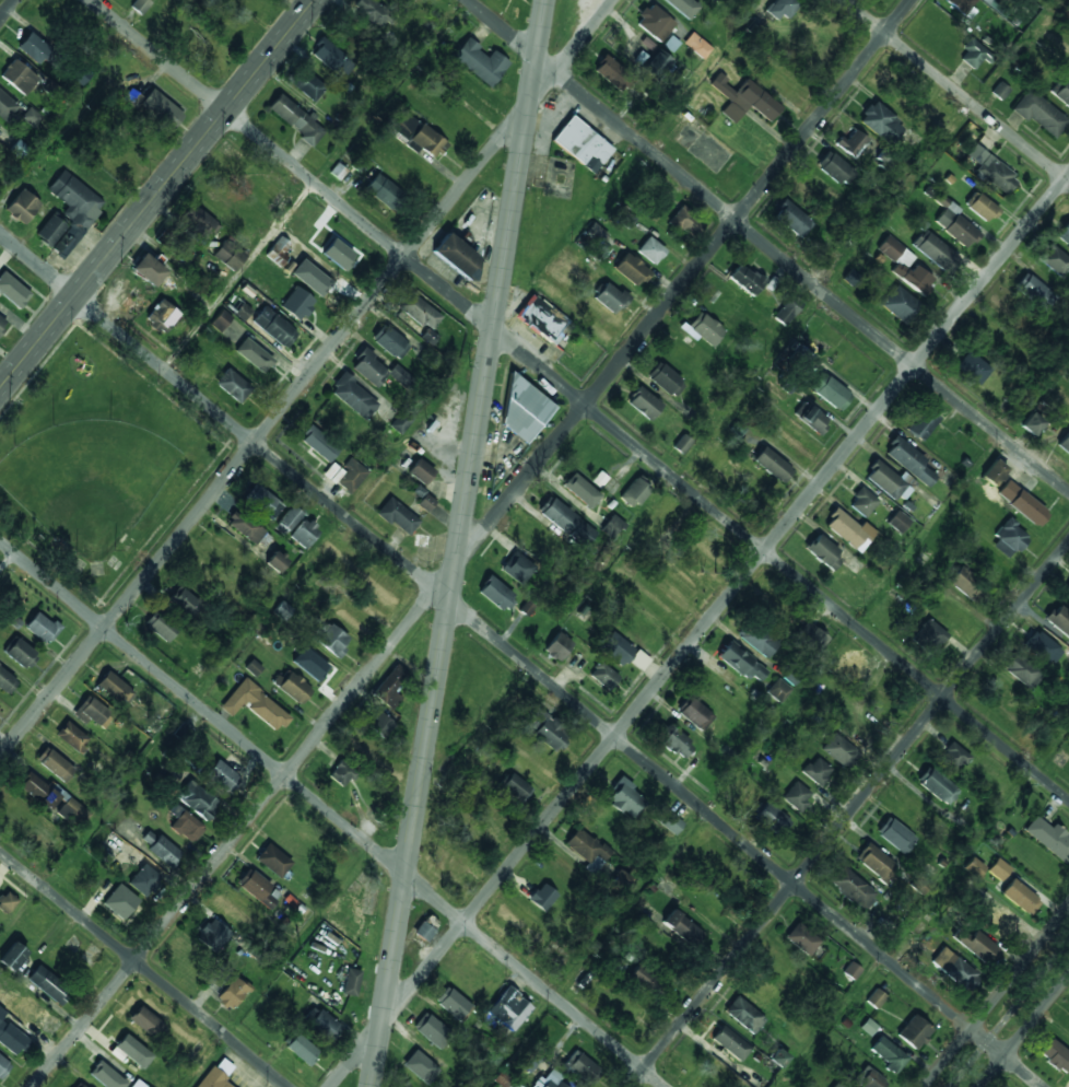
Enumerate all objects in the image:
building: (985, 1)
building: (679, 4)
building: (961, 4)
building: (140, 5)
building: (782, 8)
road: (8, 9)
building: (373, 11)
building: (654, 23)
building: (1068, 26)
building: (696, 46)
building: (33, 48)
building: (974, 56)
building: (332, 58)
building: (479, 62)
building: (656, 65)
building: (610, 73)
building: (17, 77)
building: (780, 82)
building: (306, 84)
road: (956, 91)
building: (1061, 91)
building: (999, 92)
building: (743, 100)
building: (162, 108)
building: (8, 109)
building: (1039, 115)
building: (31, 117)
building: (295, 118)
building: (402, 124)
building: (881, 124)
building: (427, 141)
building: (582, 145)
building: (854, 145)
building: (835, 170)
building: (338, 171)
building: (997, 177)
building: (384, 192)
road: (157, 195)
building: (22, 207)
building: (73, 208)
building: (983, 209)
building: (791, 219)
building: (201, 222)
building: (685, 223)
building: (956, 229)
building: (49, 231)
building: (1064, 234)
building: (592, 237)
building: (169, 241)
road: (767, 246)
building: (277, 250)
building: (650, 250)
building: (936, 252)
building: (337, 254)
building: (228, 255)
building: (456, 255)
building: (1055, 260)
building: (905, 267)
building: (148, 270)
building: (631, 270)
road: (242, 276)
building: (850, 277)
building: (745, 279)
building: (320, 281)
building: (12, 290)
building: (1035, 293)
building: (610, 299)
building: (296, 303)
building: (900, 305)
building: (242, 311)
building: (418, 311)
building: (787, 311)
building: (162, 317)
building: (591, 317)
building: (540, 318)
building: (221, 320)
building: (2, 323)
building: (274, 327)
building: (705, 329)
building: (987, 339)
building: (389, 341)
building: (582, 352)
building: (799, 352)
building: (254, 354)
building: (973, 369)
building: (378, 370)
road: (305, 377)
building: (666, 379)
building: (232, 385)
building: (830, 391)
building: (353, 396)
road: (580, 399)
building: (644, 405)
building: (521, 412)
building: (813, 420)
building: (400, 422)
building: (921, 423)
building: (1031, 425)
building: (319, 443)
building: (682, 444)
building: (1065, 444)
building: (707, 459)
building: (908, 460)
building: (772, 465)
building: (421, 471)
building: (994, 474)
building: (345, 475)
building: (884, 480)
building: (578, 493)
building: (631, 494)
building: (424, 499)
building: (262, 501)
building: (862, 503)
building: (1024, 505)
building: (662, 515)
building: (398, 516)
building: (287, 521)
building: (898, 522)
building: (567, 523)
building: (611, 527)
building: (247, 528)
building: (848, 530)
building: (304, 534)
building: (1009, 539)
road: (458, 542)
road: (471, 543)
building: (823, 552)
building: (277, 561)
building: (510, 564)
road: (9, 565)
building: (966, 584)
building: (495, 594)
building: (1067, 596)
building: (185, 603)
building: (283, 610)
building: (949, 612)
building: (1059, 619)
building: (160, 626)
building: (42, 628)
road: (700, 630)
building: (810, 636)
building: (756, 638)
building: (928, 638)
building: (332, 640)
building: (557, 646)
building: (1041, 646)
building: (615, 648)
building: (20, 653)
road: (521, 659)
building: (741, 663)
building: (309, 665)
building: (846, 666)
building: (252, 667)
building: (1022, 670)
building: (602, 675)
building: (5, 681)
building: (292, 686)
building: (389, 687)
building: (115, 688)
building: (777, 690)
building: (255, 704)
building: (92, 713)
building: (694, 713)
building: (860, 724)
road: (172, 725)
building: (380, 725)
building: (548, 729)
building: (71, 736)
building: (673, 739)
building: (838, 750)
building: (953, 757)
building: (532, 762)
building: (55, 764)
building: (817, 770)
building: (341, 773)
building: (221, 775)
building: (937, 785)
building: (515, 787)
building: (797, 796)
building: (51, 797)
building: (625, 798)
building: (197, 799)
road: (332, 813)
road: (848, 814)
building: (772, 818)
building: (669, 821)
building: (187, 827)
building: (895, 834)
building: (148, 837)
building: (1049, 838)
building: (695, 843)
building: (585, 845)
building: (164, 851)
building: (272, 861)
building: (876, 862)
building: (973, 867)
building: (998, 868)
building: (726, 875)
building: (143, 879)
building: (851, 888)
building: (1019, 897)
building: (541, 898)
building: (119, 901)
building: (7, 902)
road: (923, 907)
building: (996, 920)
building: (425, 927)
building: (681, 927)
building: (212, 935)
building: (801, 939)
road: (299, 940)
building: (975, 945)
road: (591, 947)
building: (12, 956)
road: (144, 967)
building: (954, 969)
building: (851, 970)
building: (642, 978)
building: (351, 982)
building: (0, 983)
building: (48, 984)
building: (761, 989)
building: (231, 993)
road: (996, 997)
building: (874, 998)
building: (451, 1003)
building: (509, 1009)
building: (32, 1012)
road: (1008, 1012)
building: (744, 1015)
building: (145, 1021)
building: (320, 1021)
building: (868, 1026)
building: (432, 1030)
building: (914, 1032)
road: (1024, 1032)
building: (11, 1036)
building: (731, 1043)
building: (299, 1047)
building: (131, 1051)
building: (888, 1053)
building: (1055, 1055)
building: (778, 1057)
building: (3, 1066)
building: (421, 1067)
building: (571, 1072)
building: (215, 1074)
building: (106, 1076)
building: (867, 1078)
building: (138, 1084)
building: (837, 1085)
building: (78, 1086)

